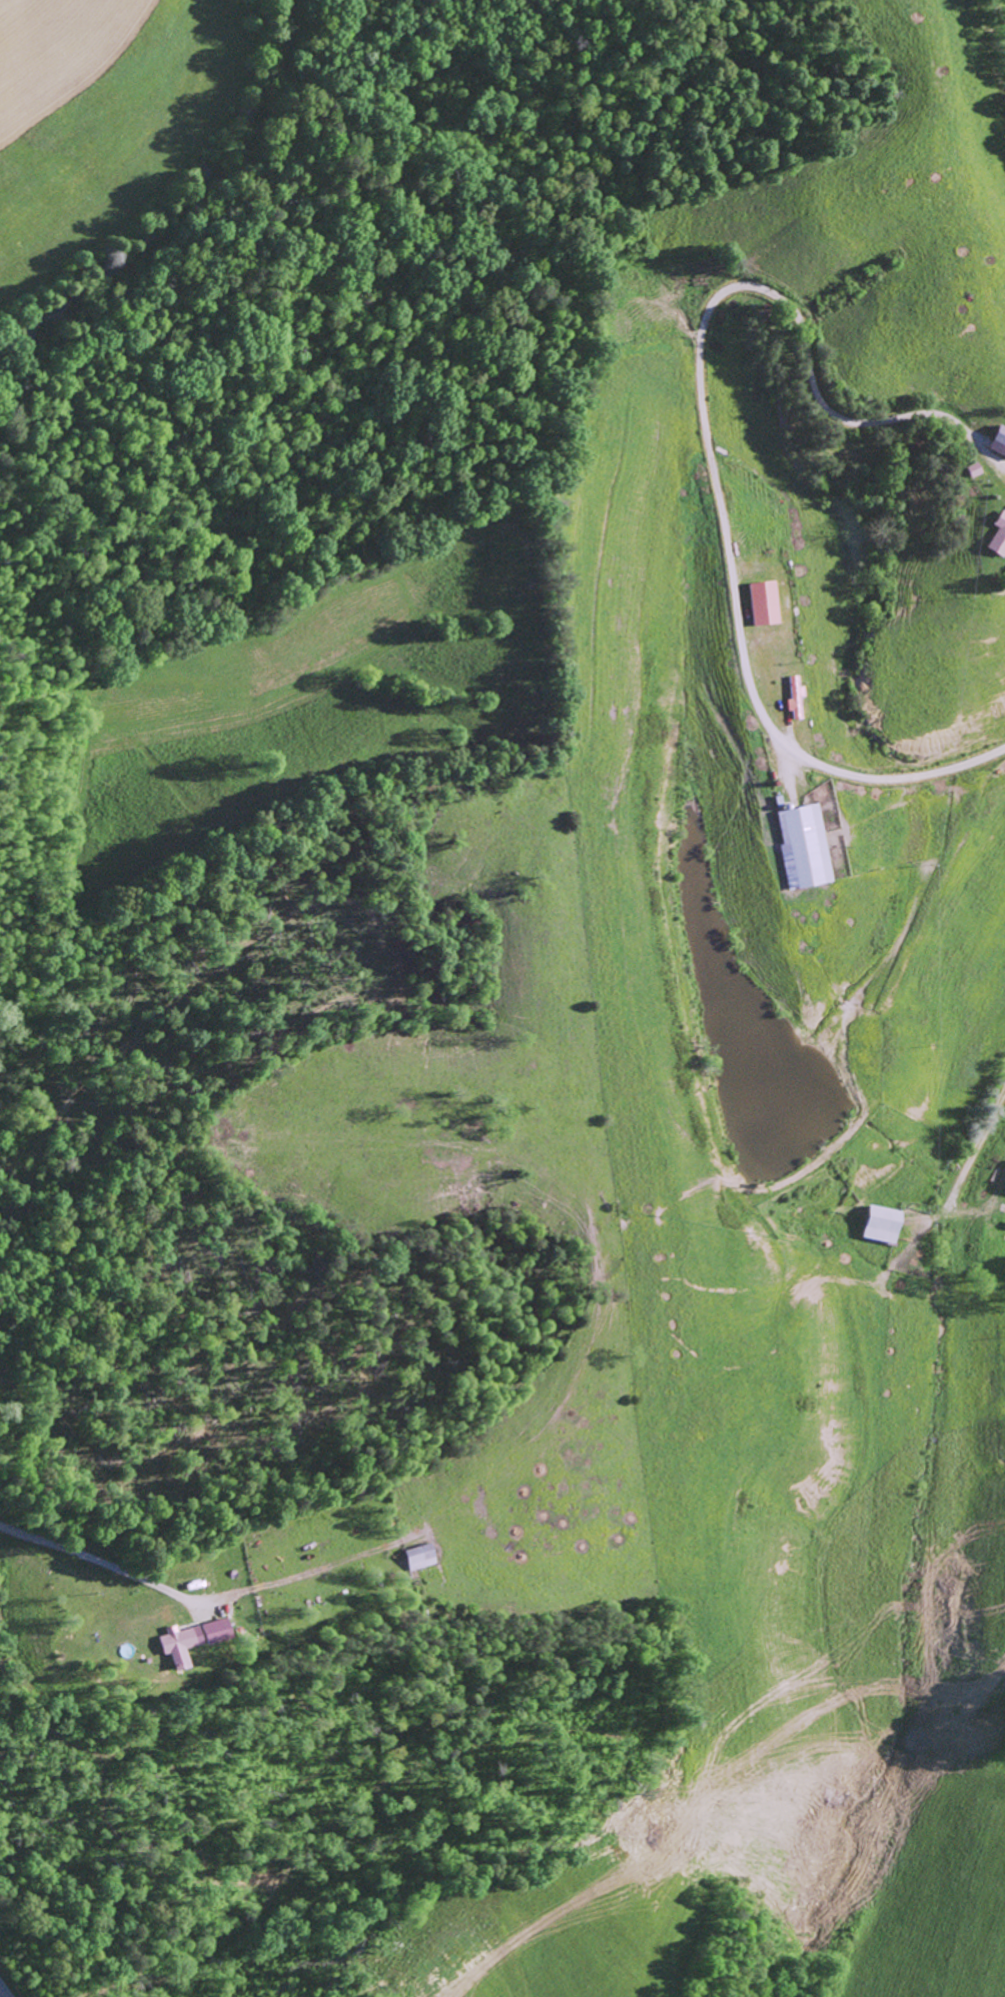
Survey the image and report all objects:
building: (998, 440)
building: (759, 602)
building: (793, 696)
building: (799, 845)
building: (882, 1224)
building: (419, 1556)
building: (191, 1640)
road: (738, 1793)
road: (3, 1992)

